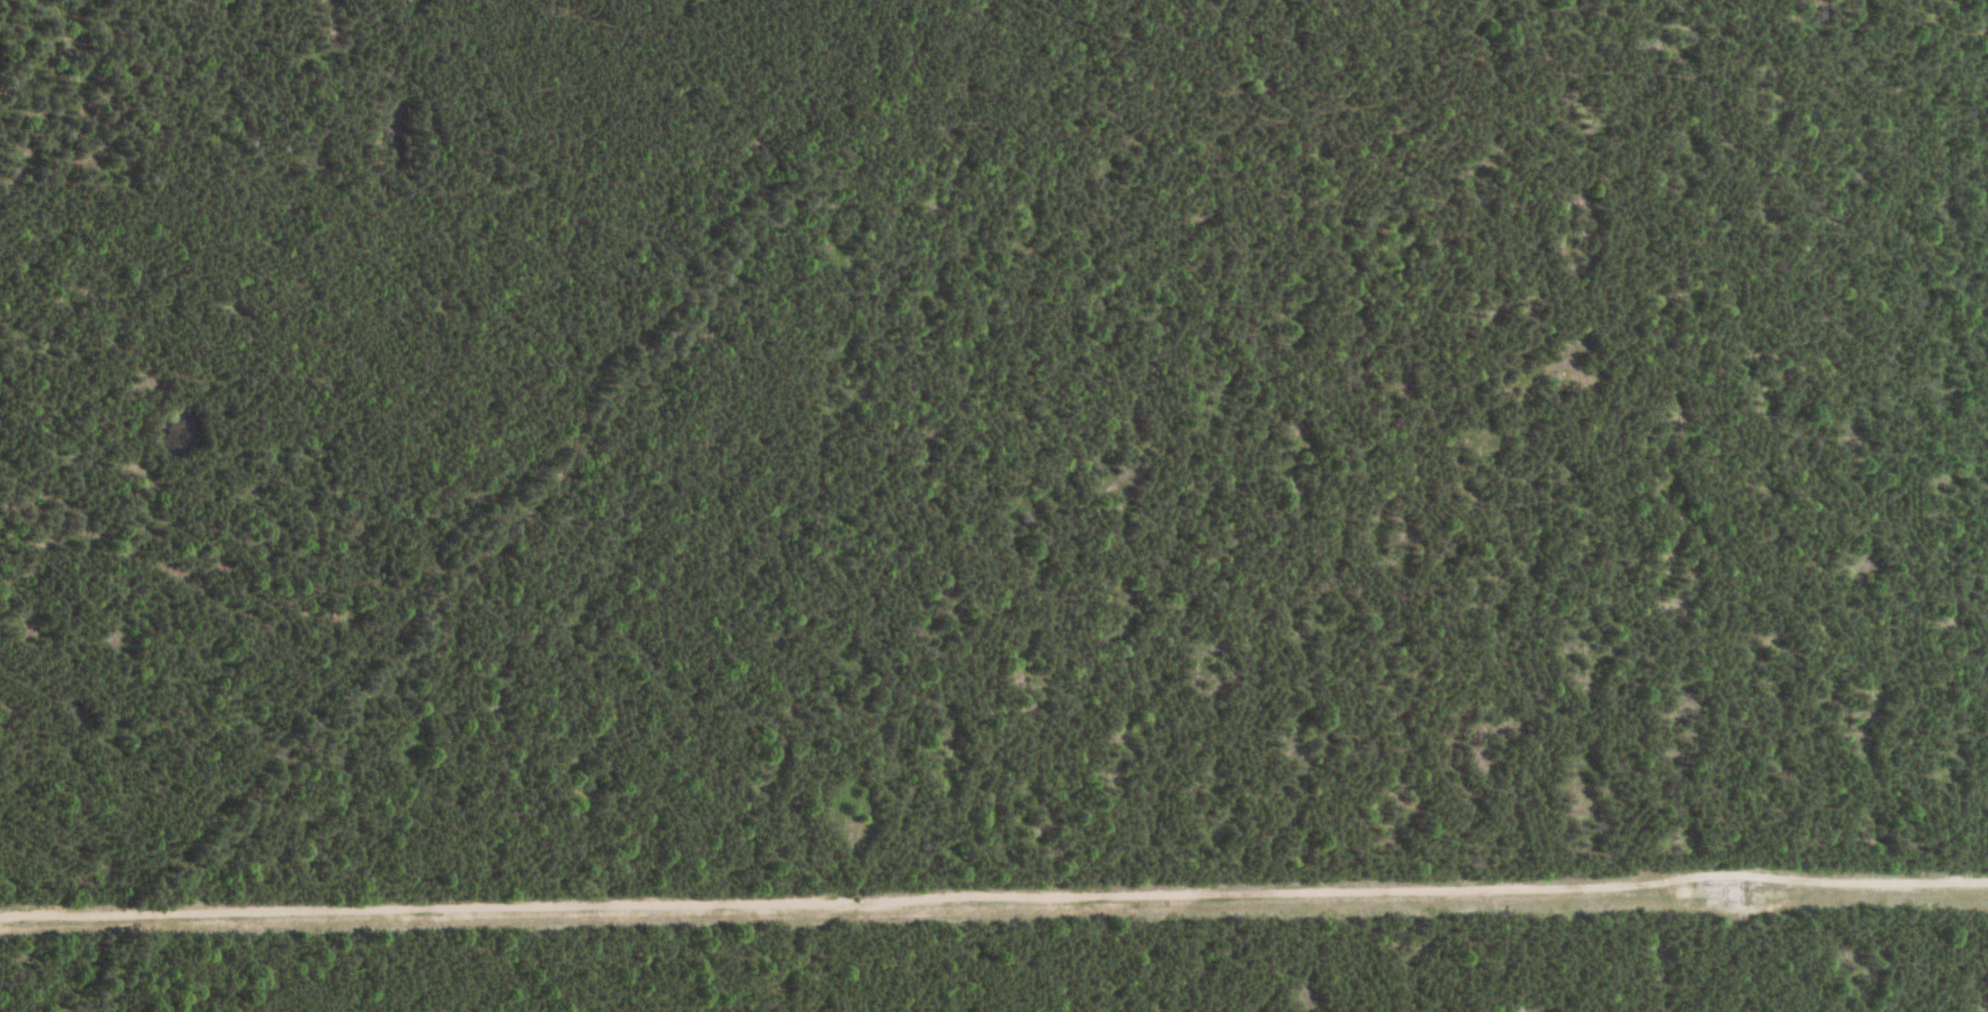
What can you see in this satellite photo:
road: (994, 905)

